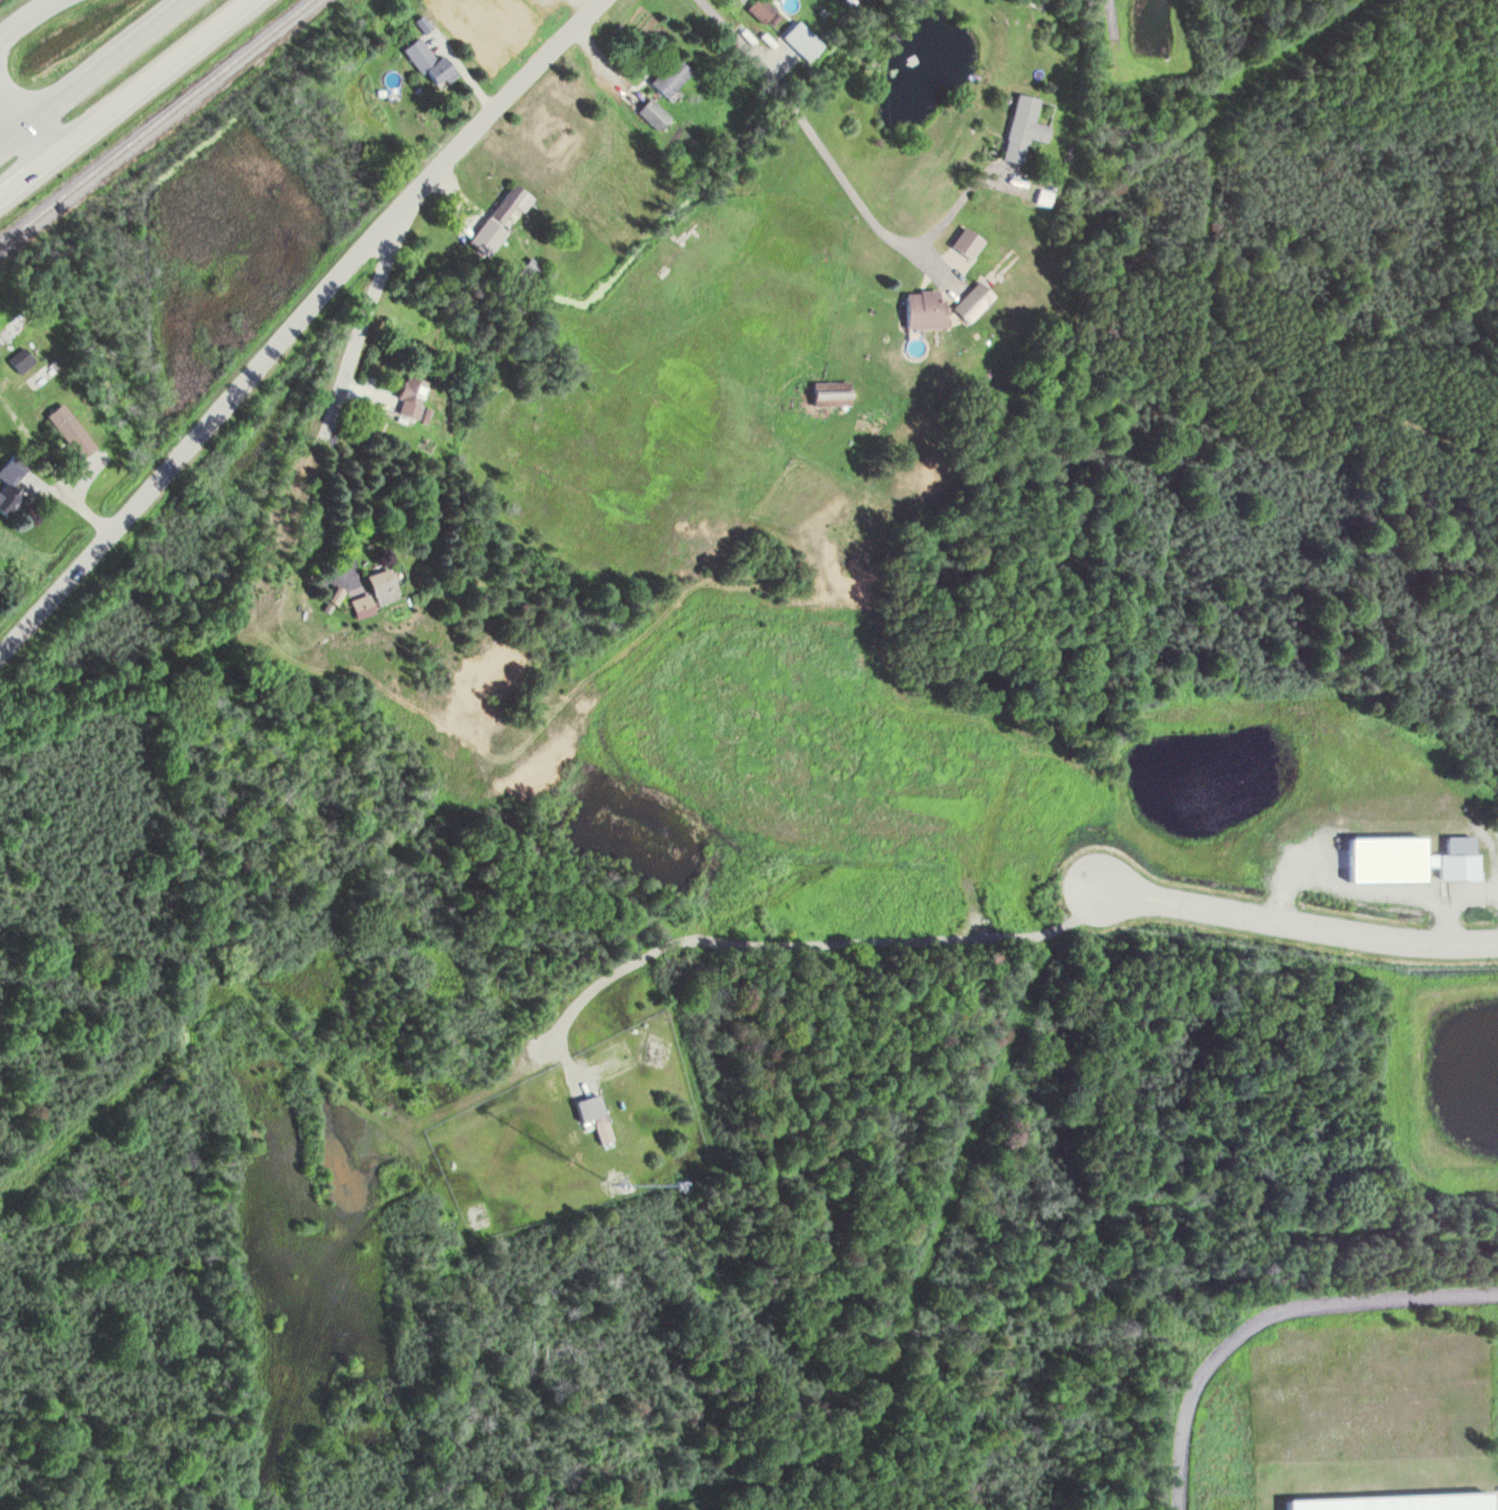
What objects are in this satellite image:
building: (1048, 3)
building: (762, 9)
road: (23, 16)
road: (1109, 24)
building: (802, 39)
building: (431, 63)
road: (91, 72)
building: (671, 75)
road: (121, 95)
road: (28, 107)
building: (654, 113)
railway: (155, 122)
building: (1024, 127)
road: (832, 164)
building: (501, 217)
building: (532, 266)
building: (973, 301)
building: (924, 308)
road: (365, 315)
road: (295, 318)
building: (23, 362)
building: (831, 393)
building: (410, 396)
building: (70, 430)
building: (12, 484)
park: (1272, 495)
building: (383, 585)
building: (362, 604)
building: (1408, 860)
road: (1300, 924)
road: (809, 942)
building: (556, 1083)
building: (602, 1128)
park: (985, 1274)
road: (1267, 1314)
building: (1391, 1494)

